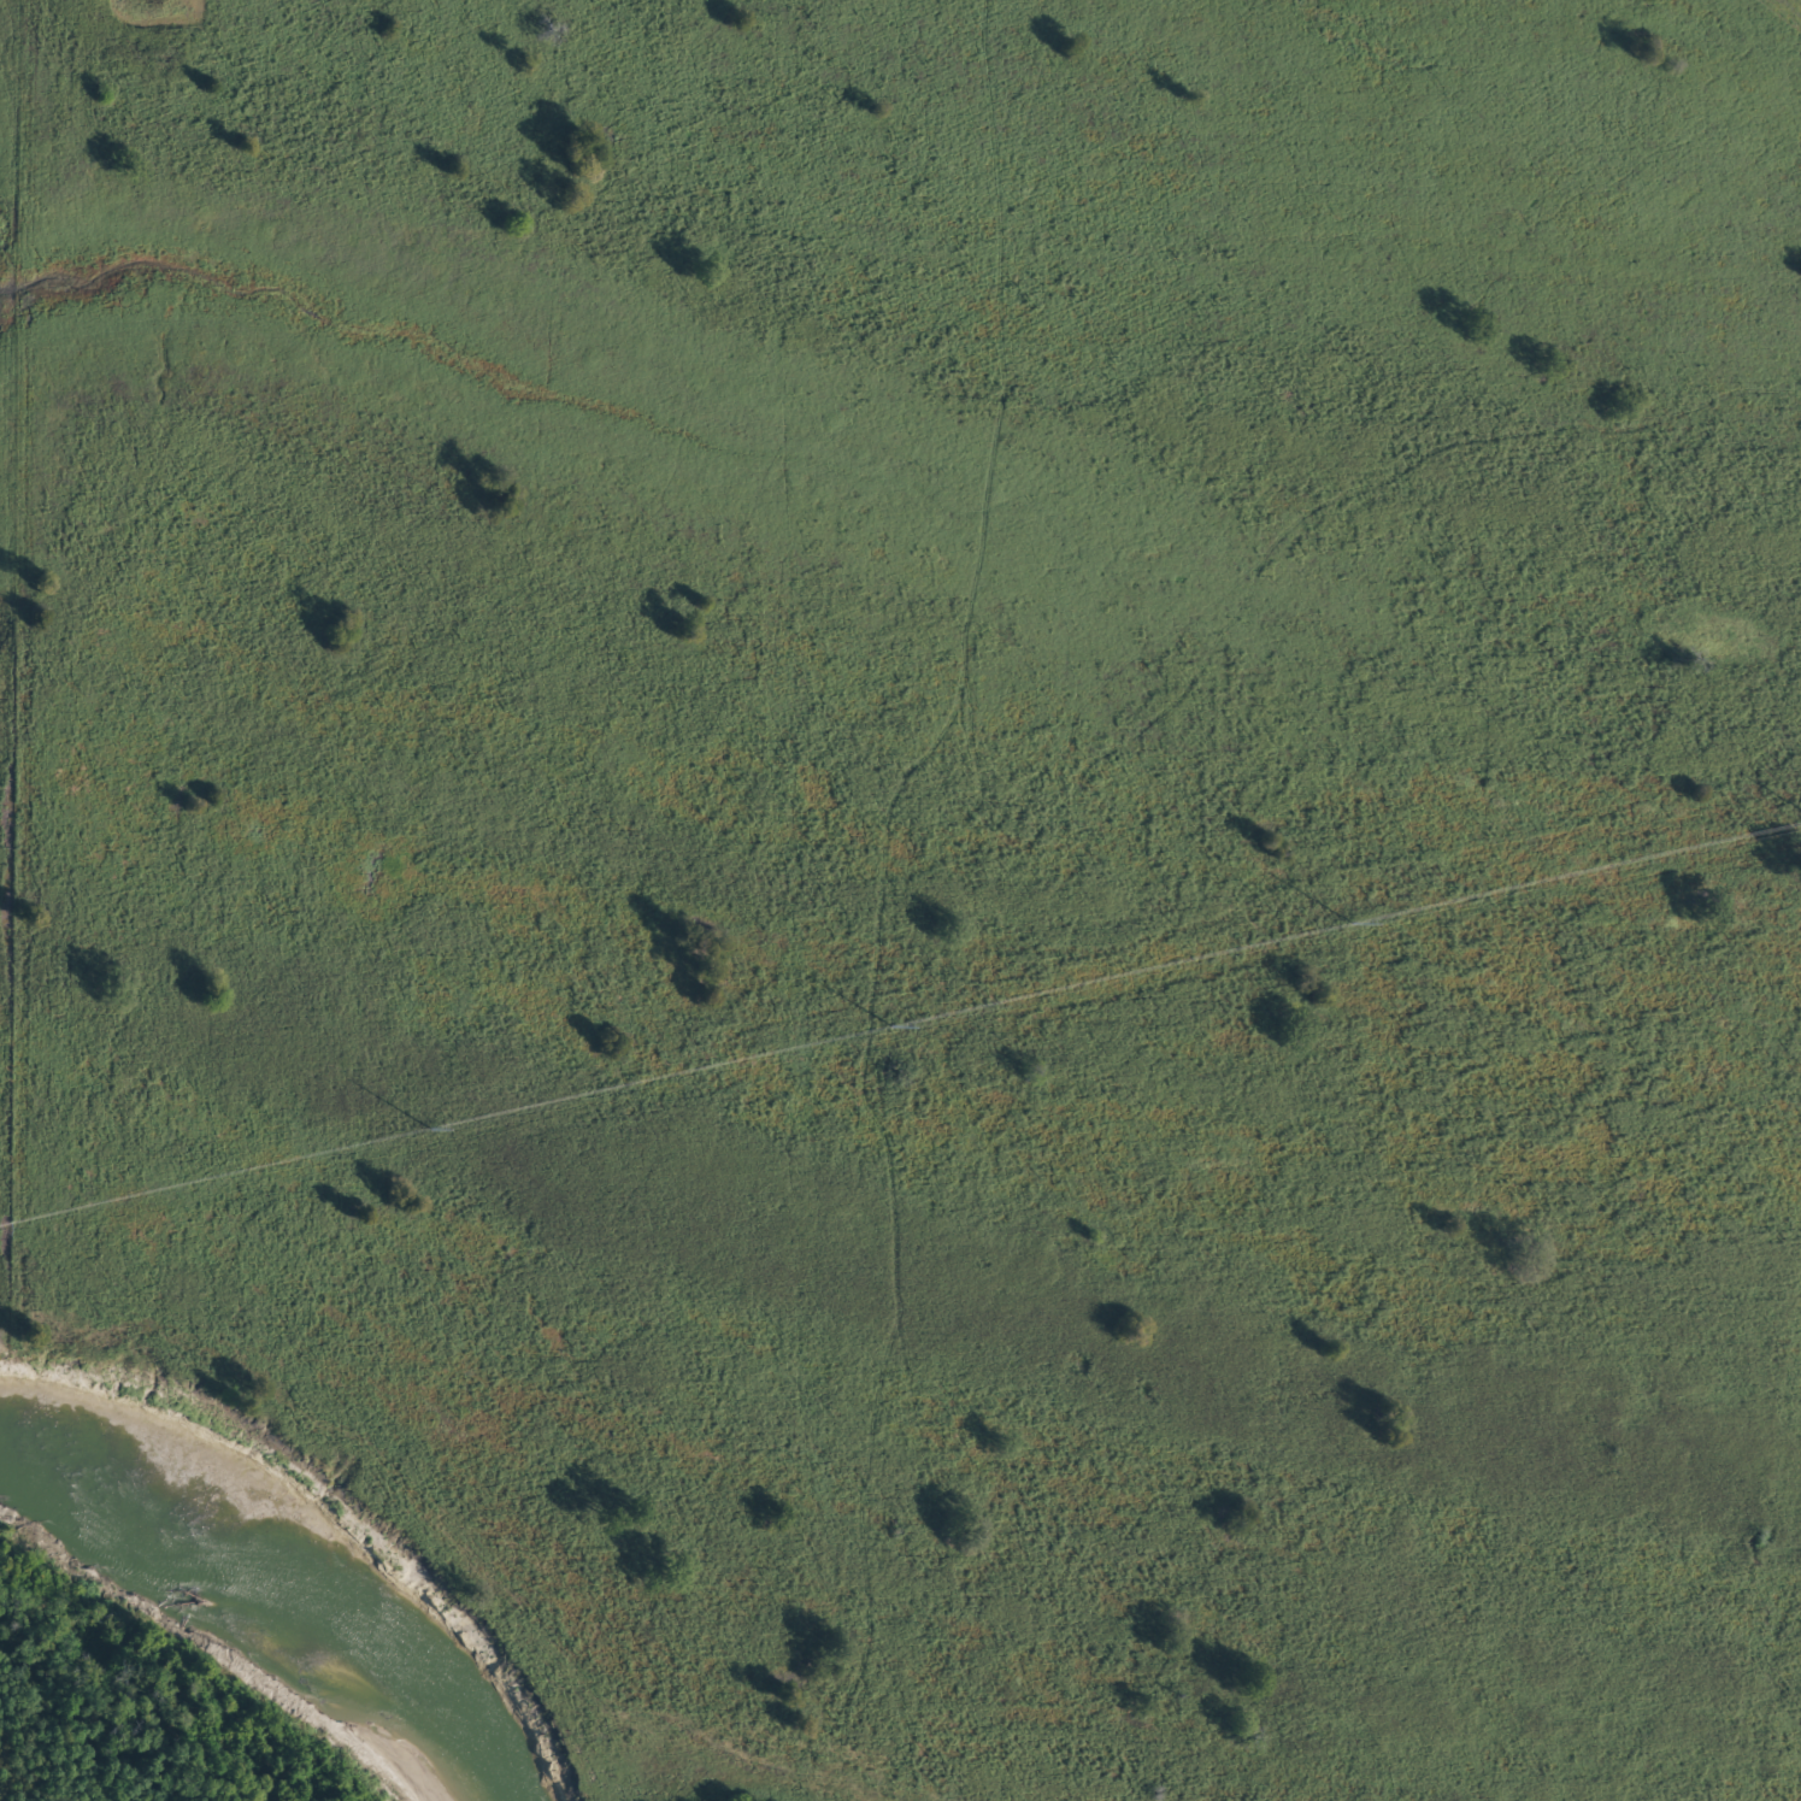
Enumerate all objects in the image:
river: (241, 1572)

